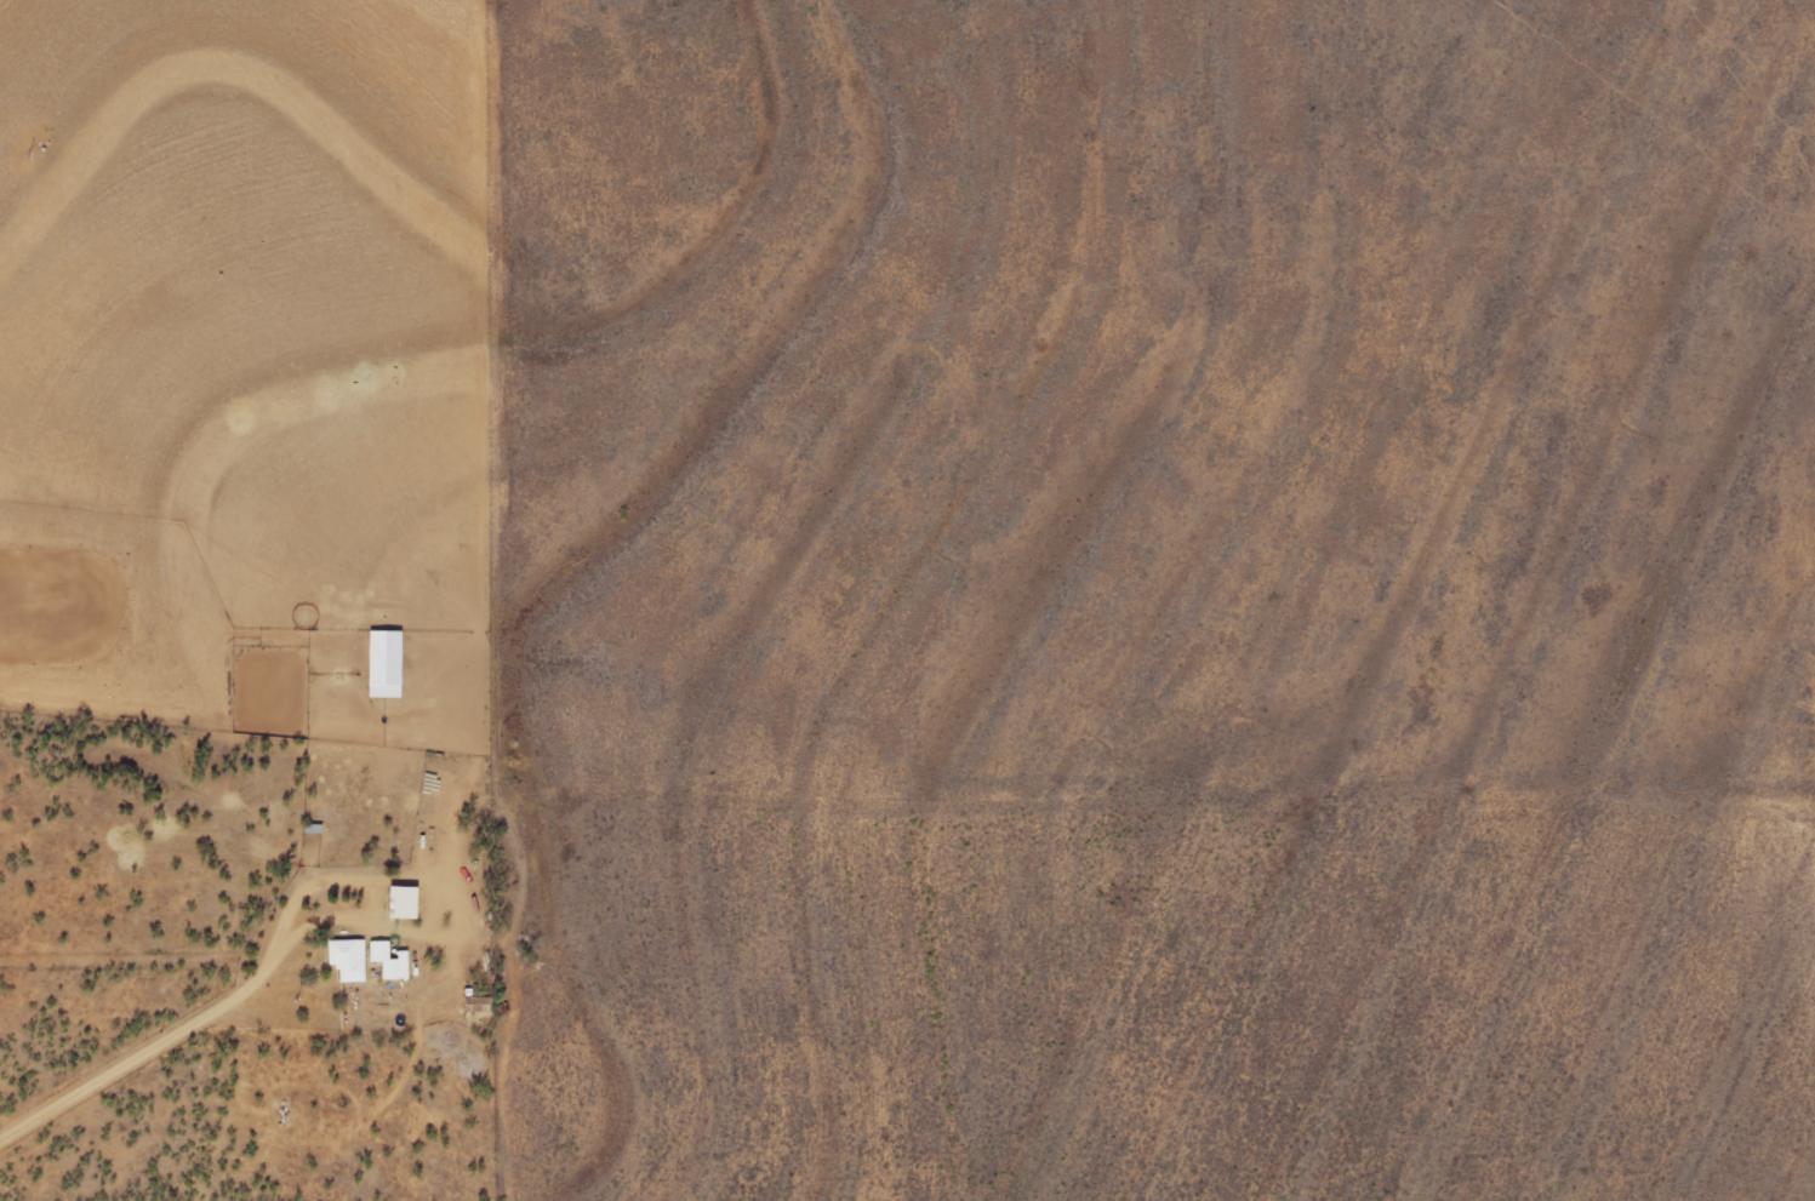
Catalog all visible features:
road: (1620, 225)
building: (387, 663)
building: (350, 959)
building: (392, 959)
road: (142, 1081)

